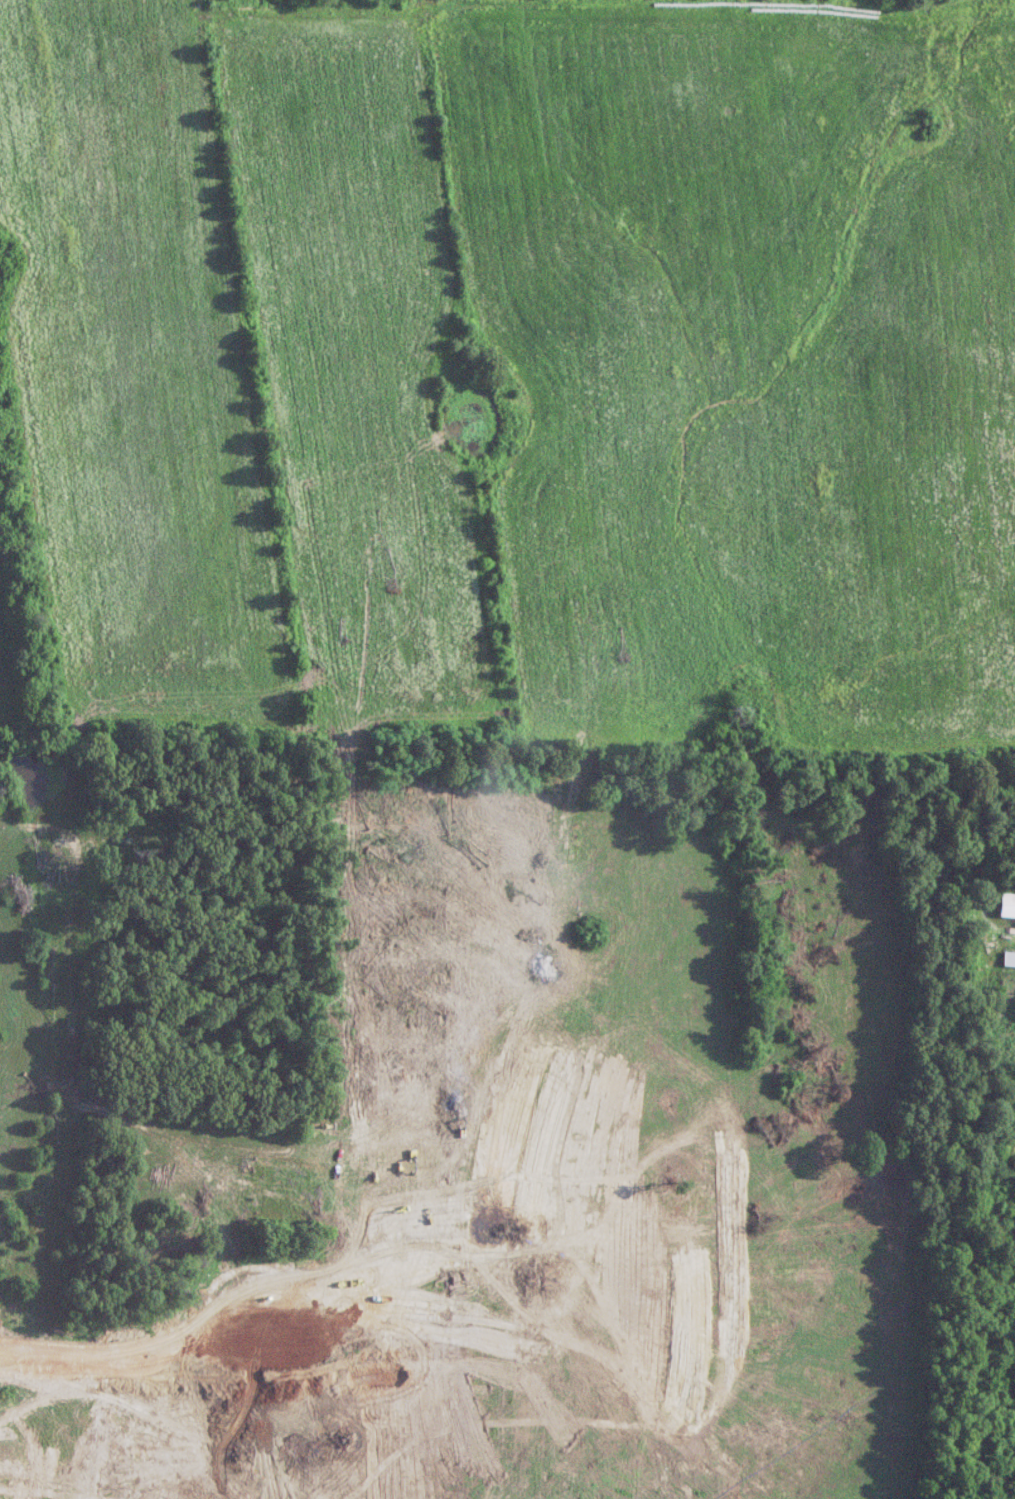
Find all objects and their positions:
crop: (136, 369)
building: (1006, 906)
building: (1009, 959)

